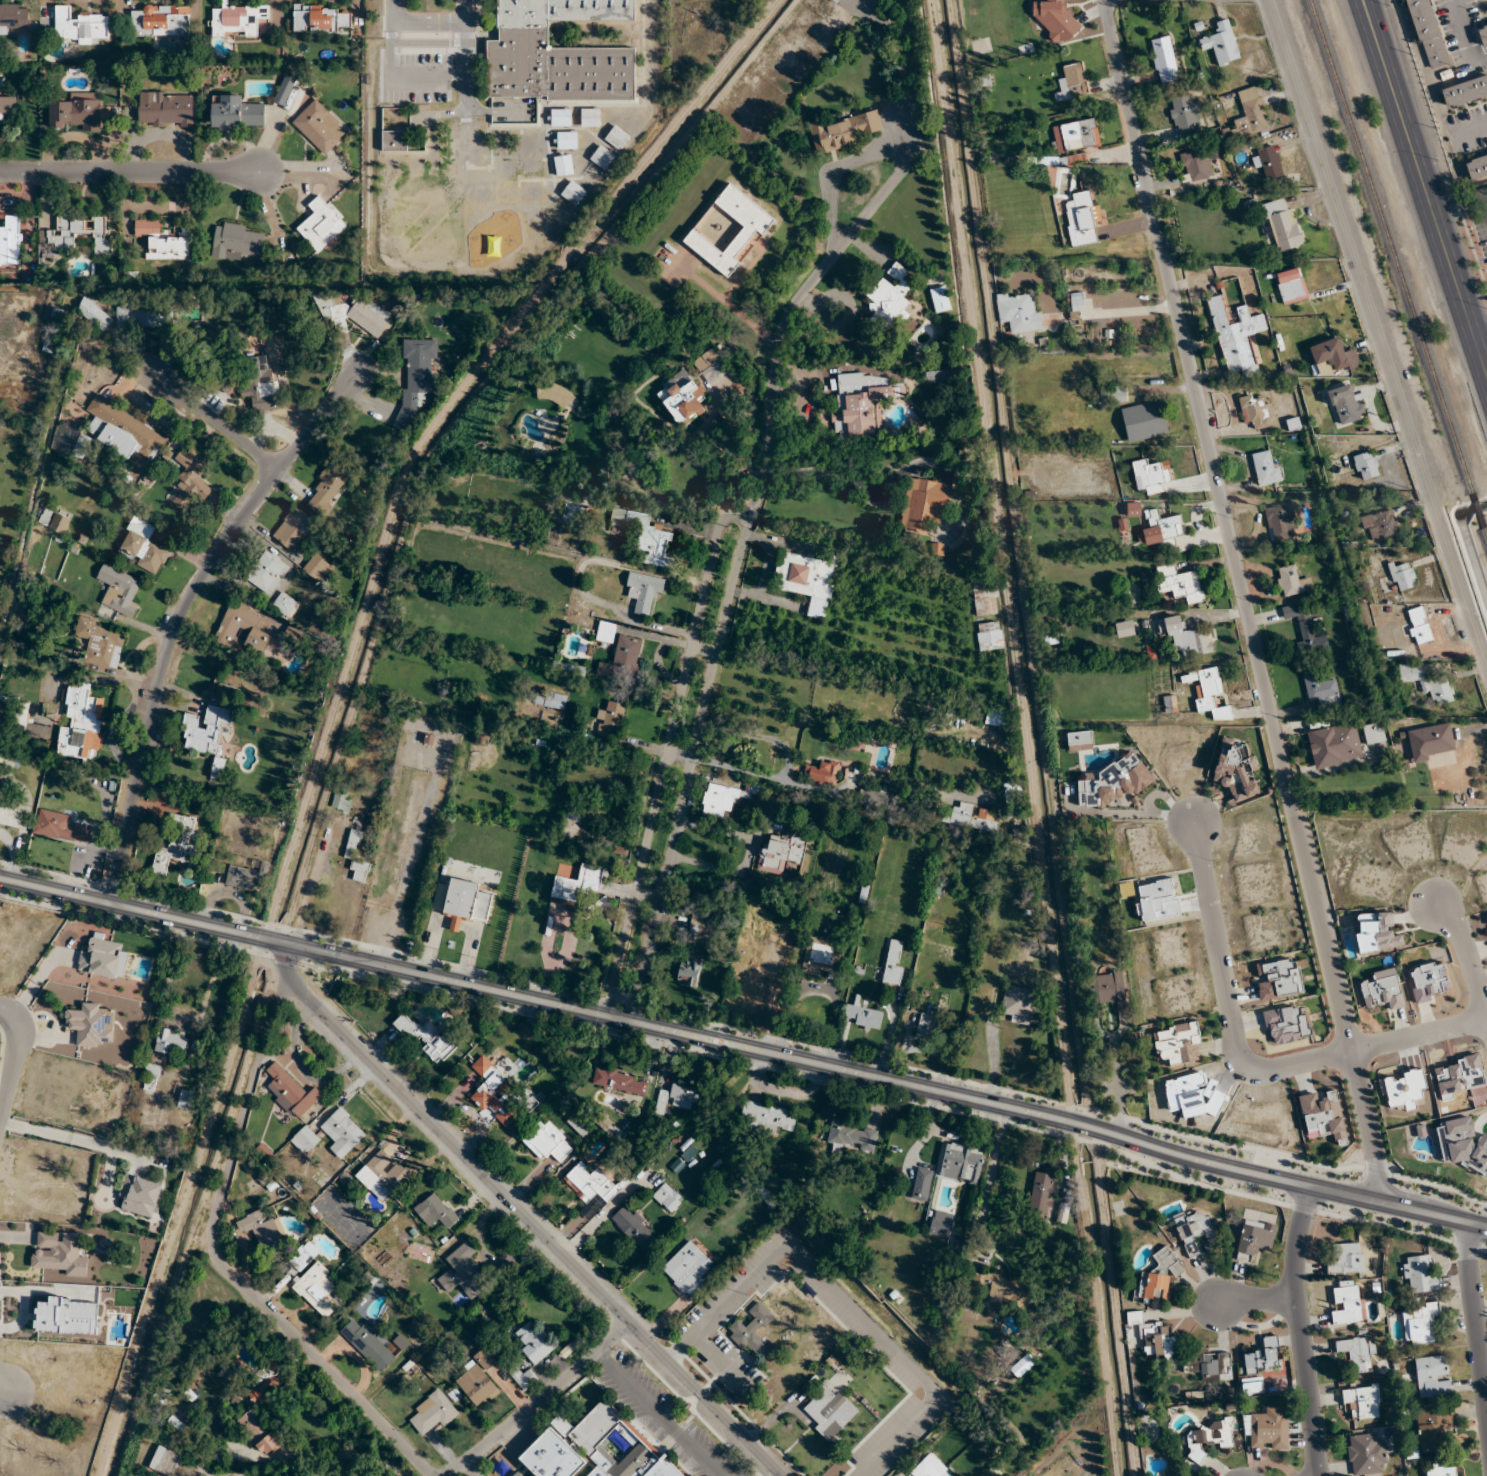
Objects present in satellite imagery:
building: (719, 0)
building: (1477, 0)
building: (836, 1)
building: (1054, 17)
building: (13, 19)
building: (318, 19)
building: (237, 20)
building: (159, 21)
building: (80, 25)
building: (1428, 33)
building: (1482, 34)
building: (1222, 44)
road: (654, 49)
building: (557, 53)
building: (1164, 59)
building: (1072, 83)
building: (284, 90)
building: (1464, 91)
building: (7, 106)
building: (165, 109)
building: (77, 113)
building: (235, 114)
building: (1184, 115)
building: (1250, 115)
building: (560, 117)
building: (590, 117)
building: (319, 127)
building: (845, 130)
building: (1075, 135)
building: (616, 137)
building: (566, 140)
building: (394, 141)
building: (530, 143)
building: (502, 144)
building: (602, 157)
building: (1268, 162)
building: (563, 164)
building: (1197, 164)
building: (1476, 167)
building: (531, 168)
building: (505, 169)
road: (129, 172)
road: (1425, 186)
building: (531, 192)
building: (573, 193)
building: (559, 212)
building: (1081, 220)
building: (1282, 223)
building: (321, 224)
building: (728, 230)
building: (80, 233)
road: (845, 237)
building: (237, 241)
building: (10, 242)
building: (161, 242)
railway: (1391, 246)
building: (1290, 286)
building: (890, 297)
building: (940, 299)
road: (724, 301)
building: (1076, 302)
building: (1018, 311)
building: (94, 314)
road: (1480, 328)
building: (52, 330)
road: (1377, 332)
building: (1236, 337)
building: (1332, 356)
building: (708, 364)
building: (935, 376)
building: (416, 380)
building: (226, 383)
building: (261, 385)
road: (801, 391)
building: (1113, 394)
building: (556, 395)
building: (685, 403)
building: (860, 404)
building: (1345, 404)
building: (1256, 411)
road: (211, 420)
road: (433, 425)
building: (1145, 425)
road: (451, 426)
building: (122, 427)
building: (1366, 465)
building: (1266, 467)
building: (192, 472)
building: (1153, 476)
building: (327, 489)
road: (724, 490)
road: (753, 496)
building: (924, 504)
railway: (1478, 510)
road: (734, 512)
building: (580, 514)
building: (51, 520)
building: (1280, 521)
building: (1381, 523)
building: (292, 529)
building: (1161, 529)
railway: (1485, 532)
building: (650, 541)
building: (143, 547)
road: (1001, 561)
road: (1020, 564)
building: (317, 566)
building: (267, 572)
building: (1402, 576)
building: (808, 580)
building: (1289, 580)
building: (1178, 584)
building: (118, 589)
building: (645, 591)
building: (985, 598)
road: (1244, 600)
building: (285, 604)
road: (178, 616)
building: (1418, 626)
building: (1124, 628)
building: (1304, 629)
building: (243, 630)
building: (606, 632)
building: (989, 636)
building: (1185, 637)
building: (99, 643)
road: (703, 647)
building: (626, 652)
building: (603, 670)
building: (1426, 682)
building: (1322, 691)
building: (1207, 692)
building: (552, 701)
building: (1169, 704)
building: (997, 718)
building: (610, 719)
building: (81, 724)
building: (205, 730)
building: (1373, 733)
building: (1431, 742)
building: (1335, 745)
road: (678, 754)
road: (661, 762)
road: (786, 764)
building: (217, 767)
road: (690, 769)
building: (1237, 770)
building: (821, 773)
building: (1114, 782)
building: (342, 797)
building: (725, 799)
building: (872, 800)
building: (1016, 813)
building: (10, 814)
building: (959, 815)
building: (986, 819)
building: (60, 827)
building: (178, 846)
building: (782, 854)
building: (356, 857)
building: (244, 878)
building: (578, 884)
road: (646, 894)
building: (466, 903)
road: (1466, 953)
building: (818, 955)
building: (103, 959)
building: (893, 962)
building: (689, 972)
building: (1022, 973)
building: (1279, 979)
building: (1429, 982)
building: (1383, 989)
building: (1105, 991)
building: (1018, 1004)
building: (864, 1017)
building: (92, 1025)
building: (1285, 1025)
building: (928, 1026)
building: (429, 1038)
building: (171, 1041)
building: (1178, 1043)
road: (744, 1048)
road: (17, 1058)
road: (1246, 1066)
building: (620, 1081)
building: (1405, 1090)
building: (291, 1092)
building: (494, 1093)
building: (678, 1097)
building: (187, 1100)
building: (1324, 1116)
building: (766, 1118)
building: (342, 1133)
building: (852, 1136)
building: (304, 1139)
building: (547, 1142)
building: (959, 1163)
building: (384, 1174)
building: (590, 1184)
building: (922, 1184)
building: (1042, 1192)
building: (140, 1196)
building: (667, 1198)
building: (435, 1212)
building: (1062, 1213)
road: (522, 1216)
building: (941, 1224)
building: (634, 1228)
building: (260, 1229)
building: (1196, 1233)
building: (1255, 1239)
building: (60, 1253)
building: (421, 1253)
building: (1345, 1259)
road: (224, 1263)
building: (686, 1268)
building: (464, 1272)
building: (1420, 1274)
building: (1159, 1276)
building: (1003, 1287)
building: (316, 1290)
road: (1257, 1301)
building: (1347, 1306)
road: (1475, 1319)
building: (1419, 1325)
building: (752, 1331)
road: (1298, 1332)
building: (1159, 1341)
building: (533, 1342)
building: (368, 1345)
building: (1357, 1353)
building: (1263, 1357)
building: (1208, 1366)
building: (1432, 1376)
building: (523, 1377)
building: (267, 1379)
building: (478, 1380)
building: (1252, 1386)
road: (1, 1391)
road: (1, 1396)
road: (538, 1401)
building: (1363, 1401)
building: (829, 1411)
building: (432, 1412)
road: (659, 1414)
building: (176, 1424)
building: (252, 1426)
building: (1268, 1429)
building: (1433, 1431)
building: (1208, 1438)
building: (268, 1444)
building: (595, 1448)
building: (1366, 1455)
building: (165, 1461)
building: (929, 1467)
building: (1441, 1470)
building: (518, 1474)

